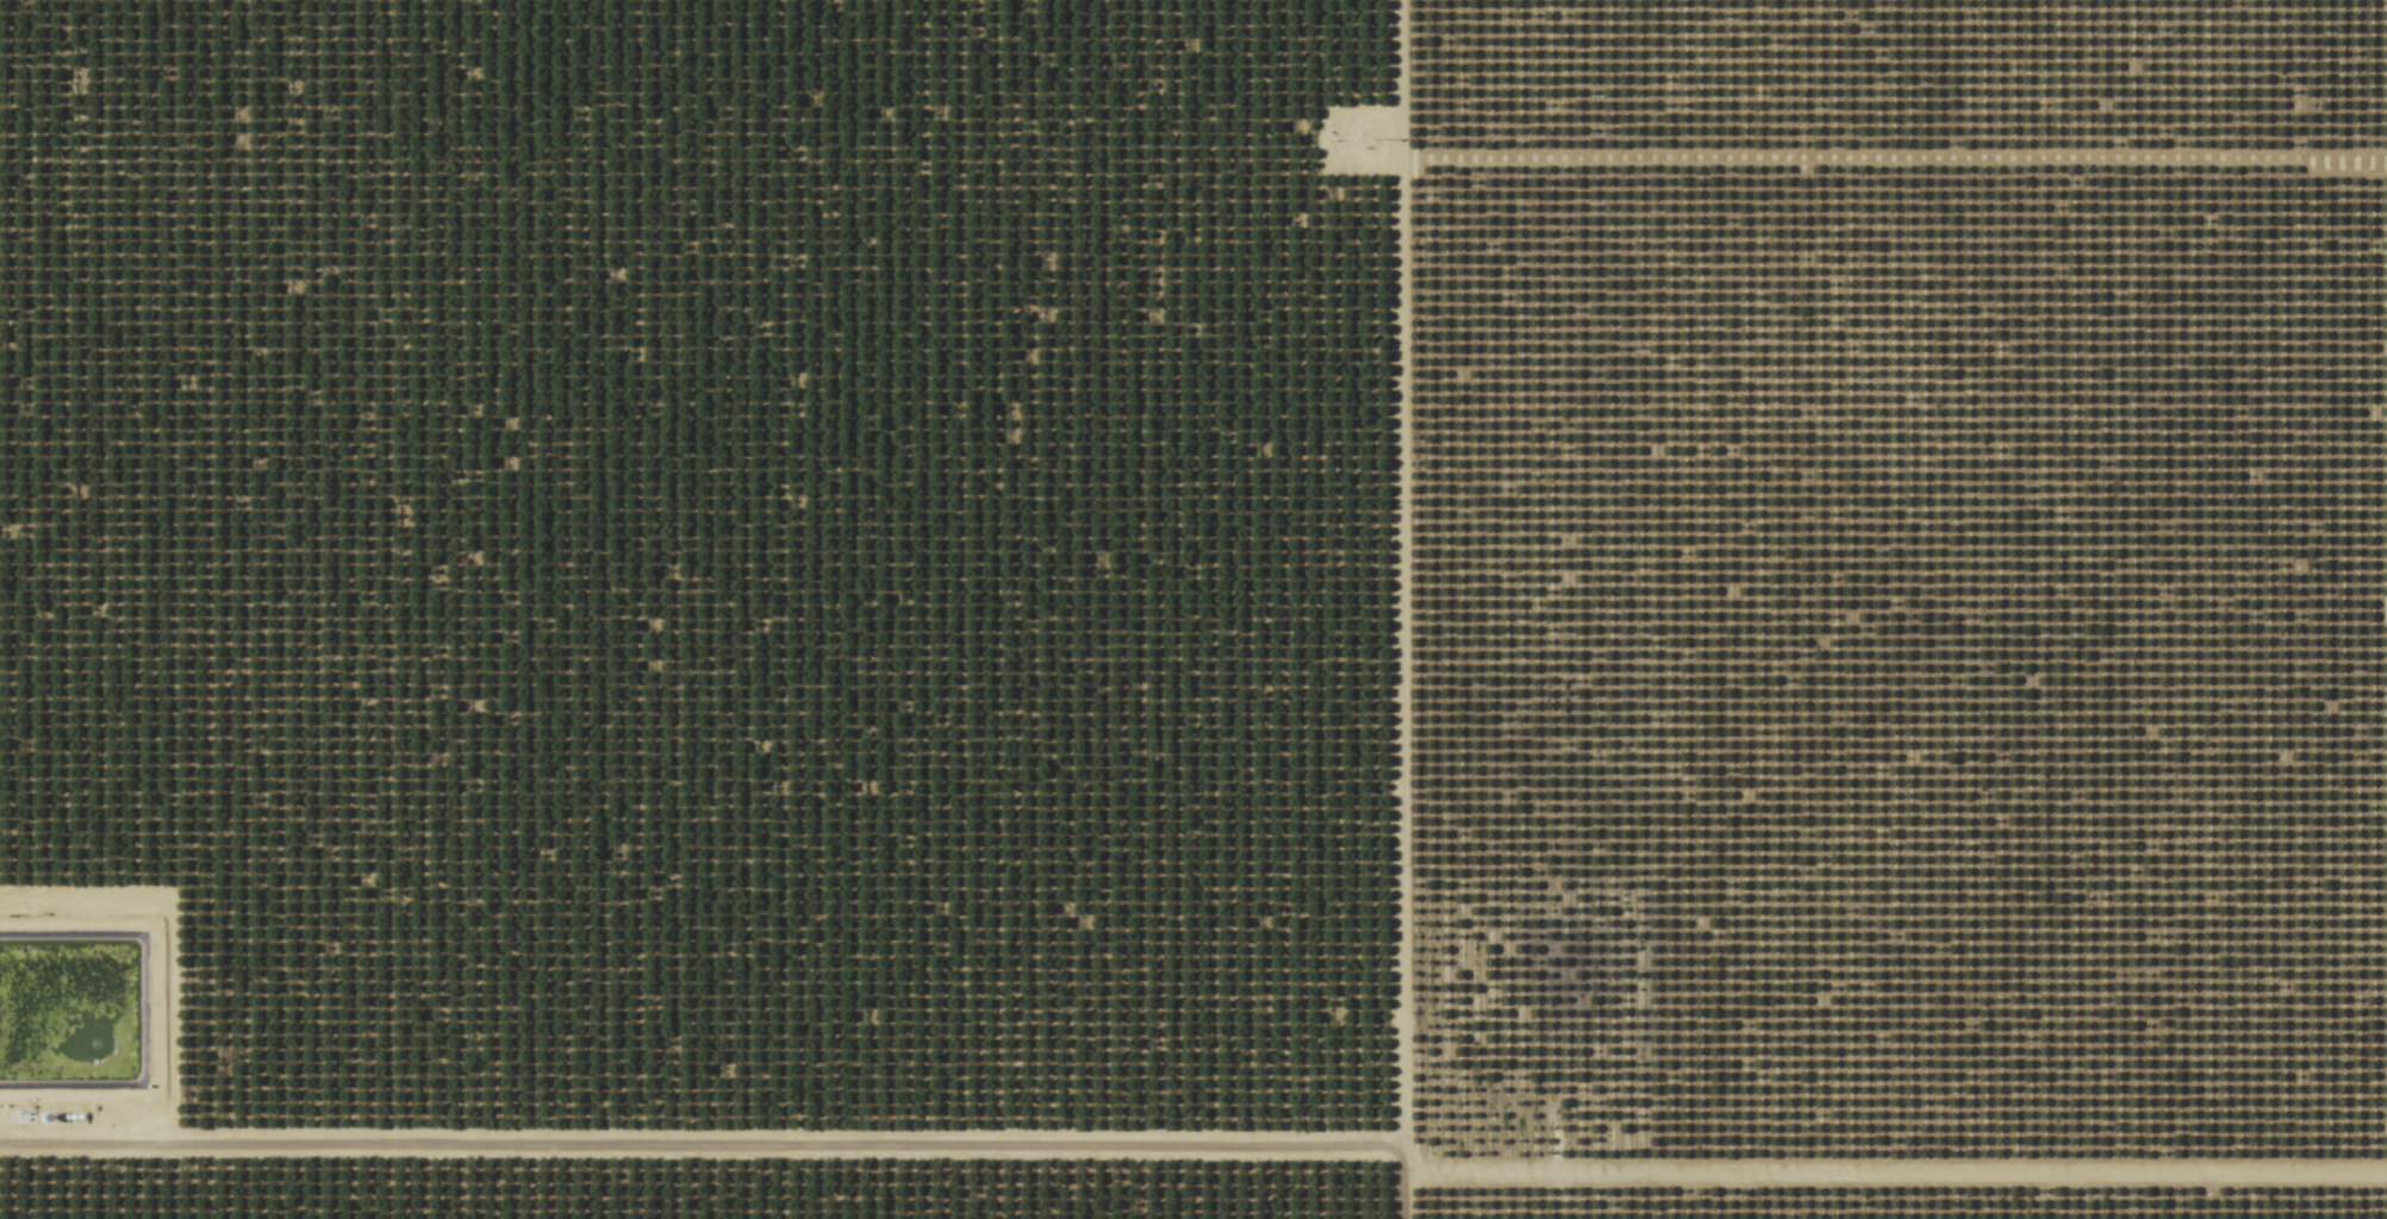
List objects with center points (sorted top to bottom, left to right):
road: (1407, 608)

